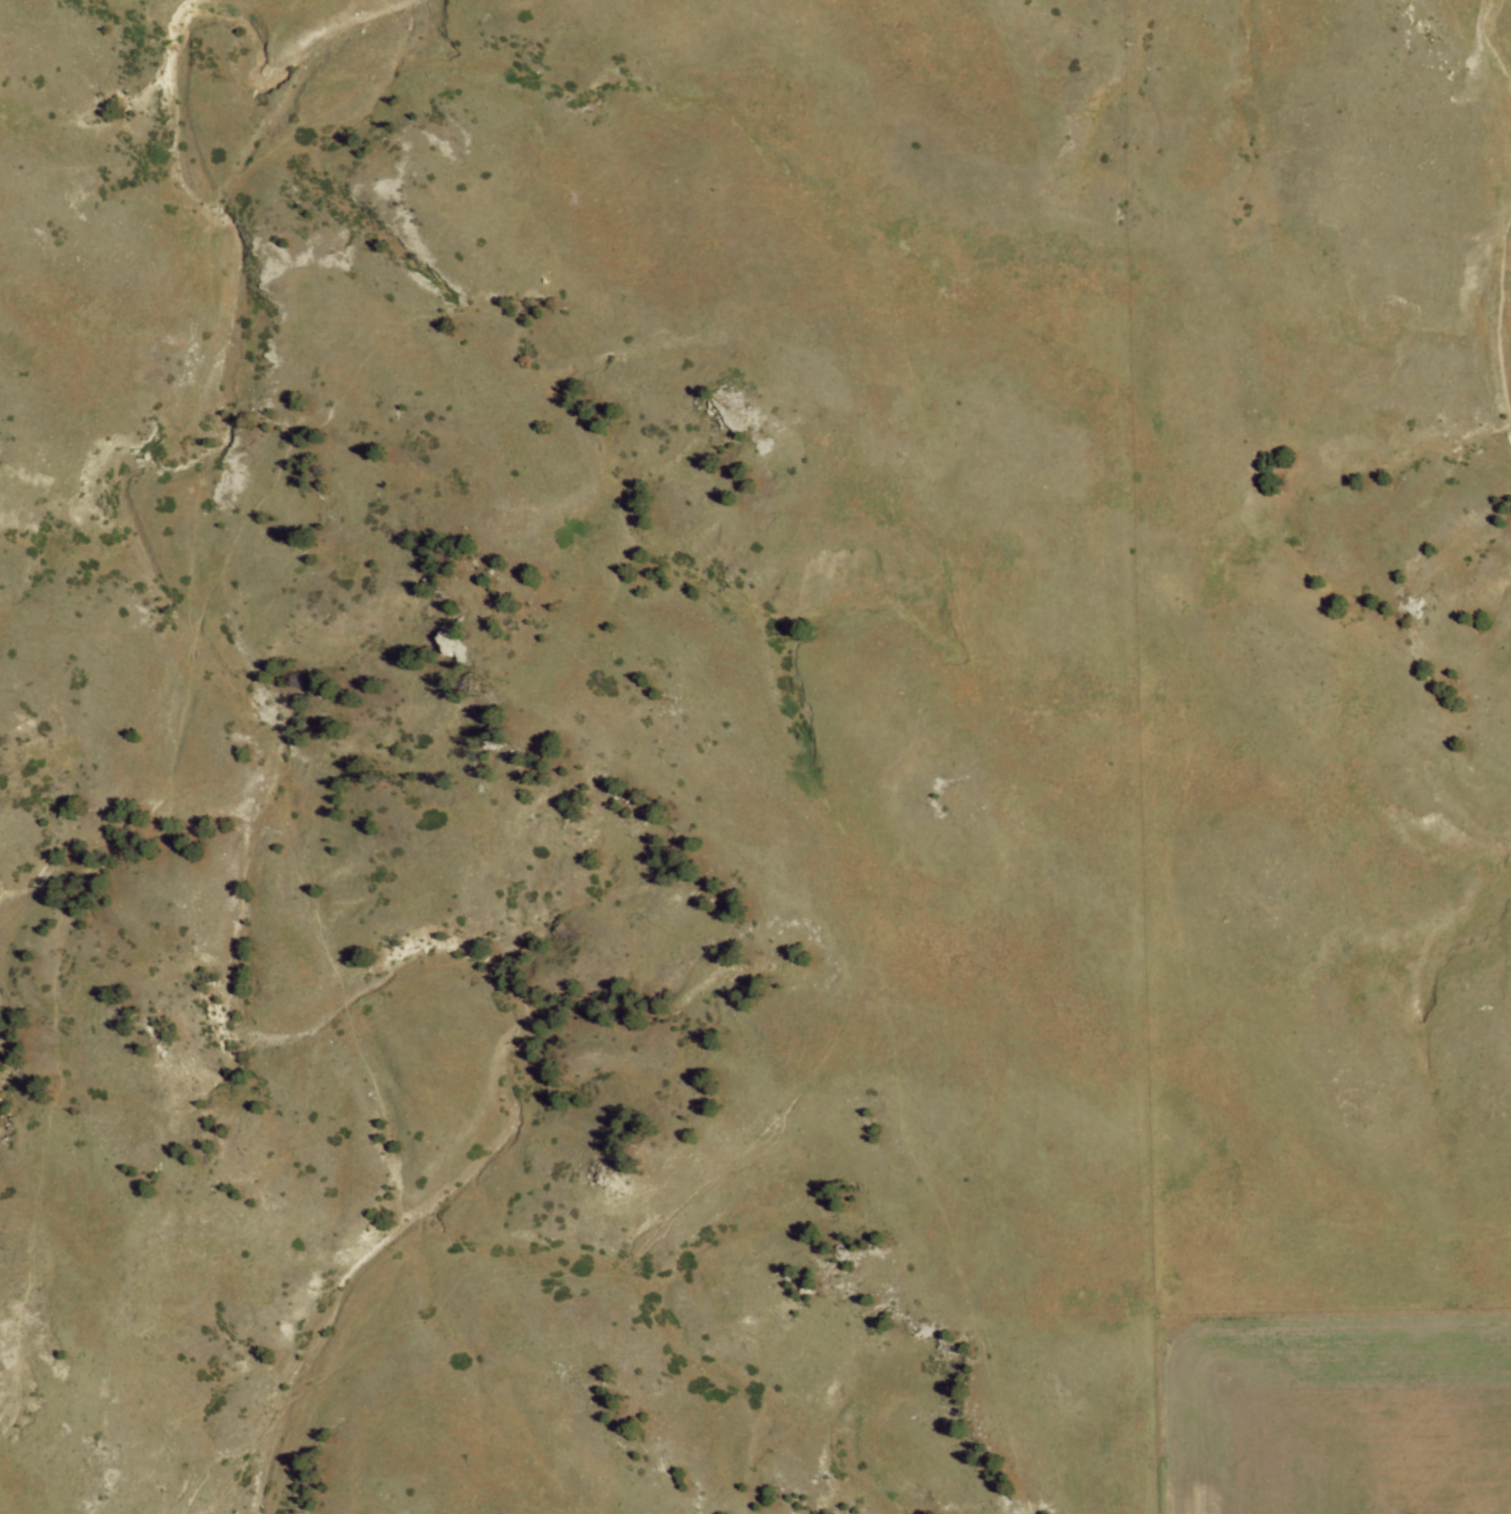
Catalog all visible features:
crop: (1337, 1413)

